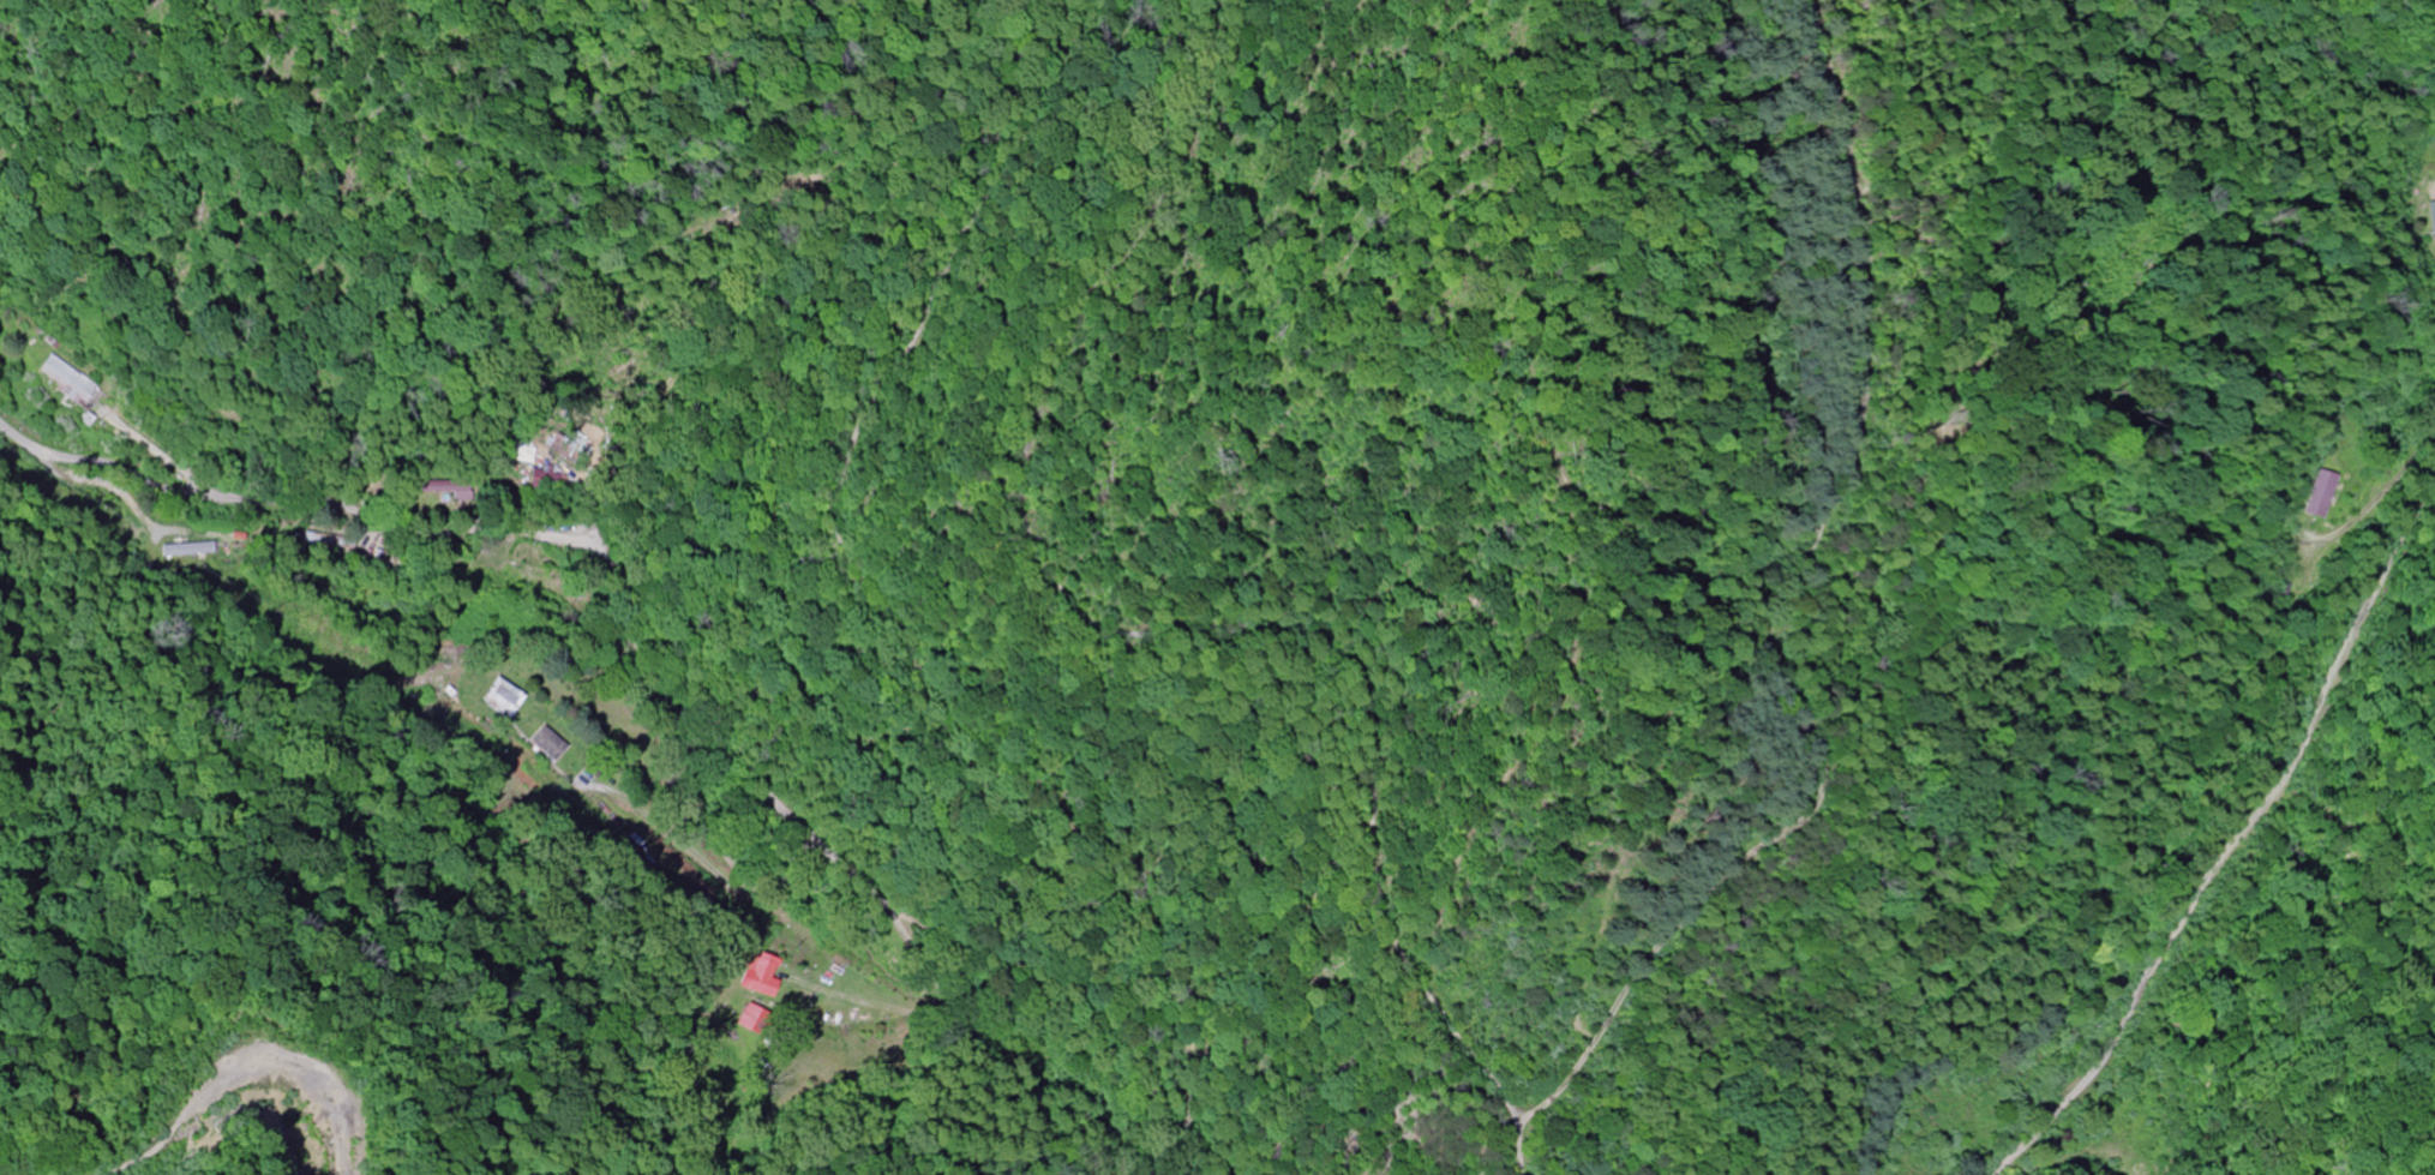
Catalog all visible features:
building: (2431, 226)
building: (70, 382)
building: (2311, 496)
building: (179, 551)
building: (534, 581)
road: (1890, 591)
road: (384, 646)
building: (504, 700)
road: (2235, 838)
road: (943, 1029)
road: (242, 1054)

